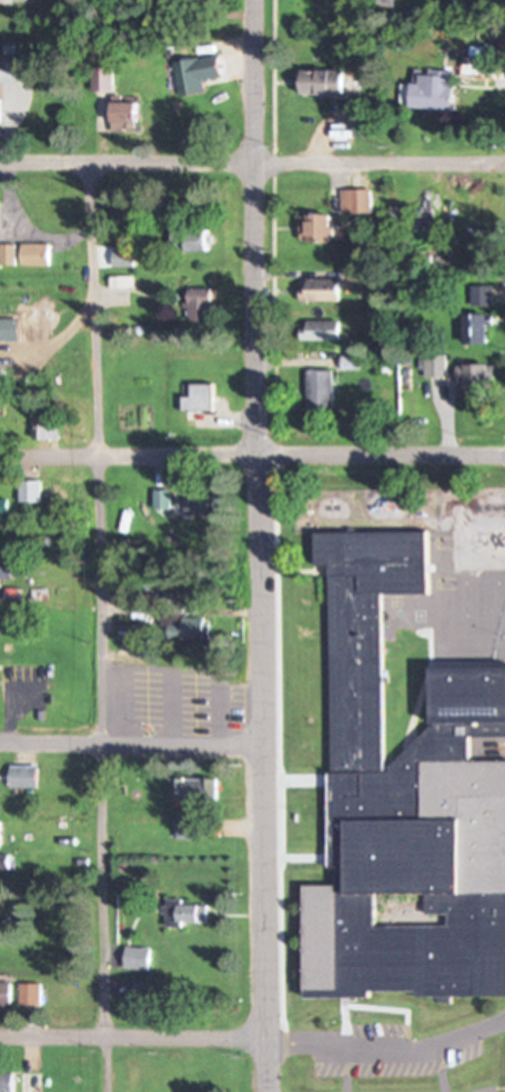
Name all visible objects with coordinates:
building: (17, 69)
building: (194, 72)
building: (101, 78)
building: (323, 80)
building: (432, 88)
building: (123, 114)
building: (363, 123)
road: (252, 162)
building: (355, 200)
building: (320, 227)
building: (190, 239)
building: (10, 253)
building: (38, 254)
building: (125, 258)
building: (321, 289)
building: (481, 294)
building: (201, 304)
building: (475, 328)
building: (11, 329)
building: (435, 364)
building: (472, 375)
building: (320, 389)
building: (199, 398)
road: (128, 451)
road: (380, 453)
building: (31, 490)
building: (161, 499)
building: (3, 503)
building: (196, 503)
road: (255, 545)
building: (4, 567)
building: (182, 624)
road: (95, 625)
building: (185, 697)
road: (128, 742)
building: (21, 777)
building: (188, 791)
building: (405, 805)
building: (188, 828)
building: (2, 861)
building: (184, 912)
building: (134, 956)
building: (3, 993)
building: (28, 993)
road: (129, 1034)
road: (383, 1042)
building: (6, 1082)
building: (28, 1082)

